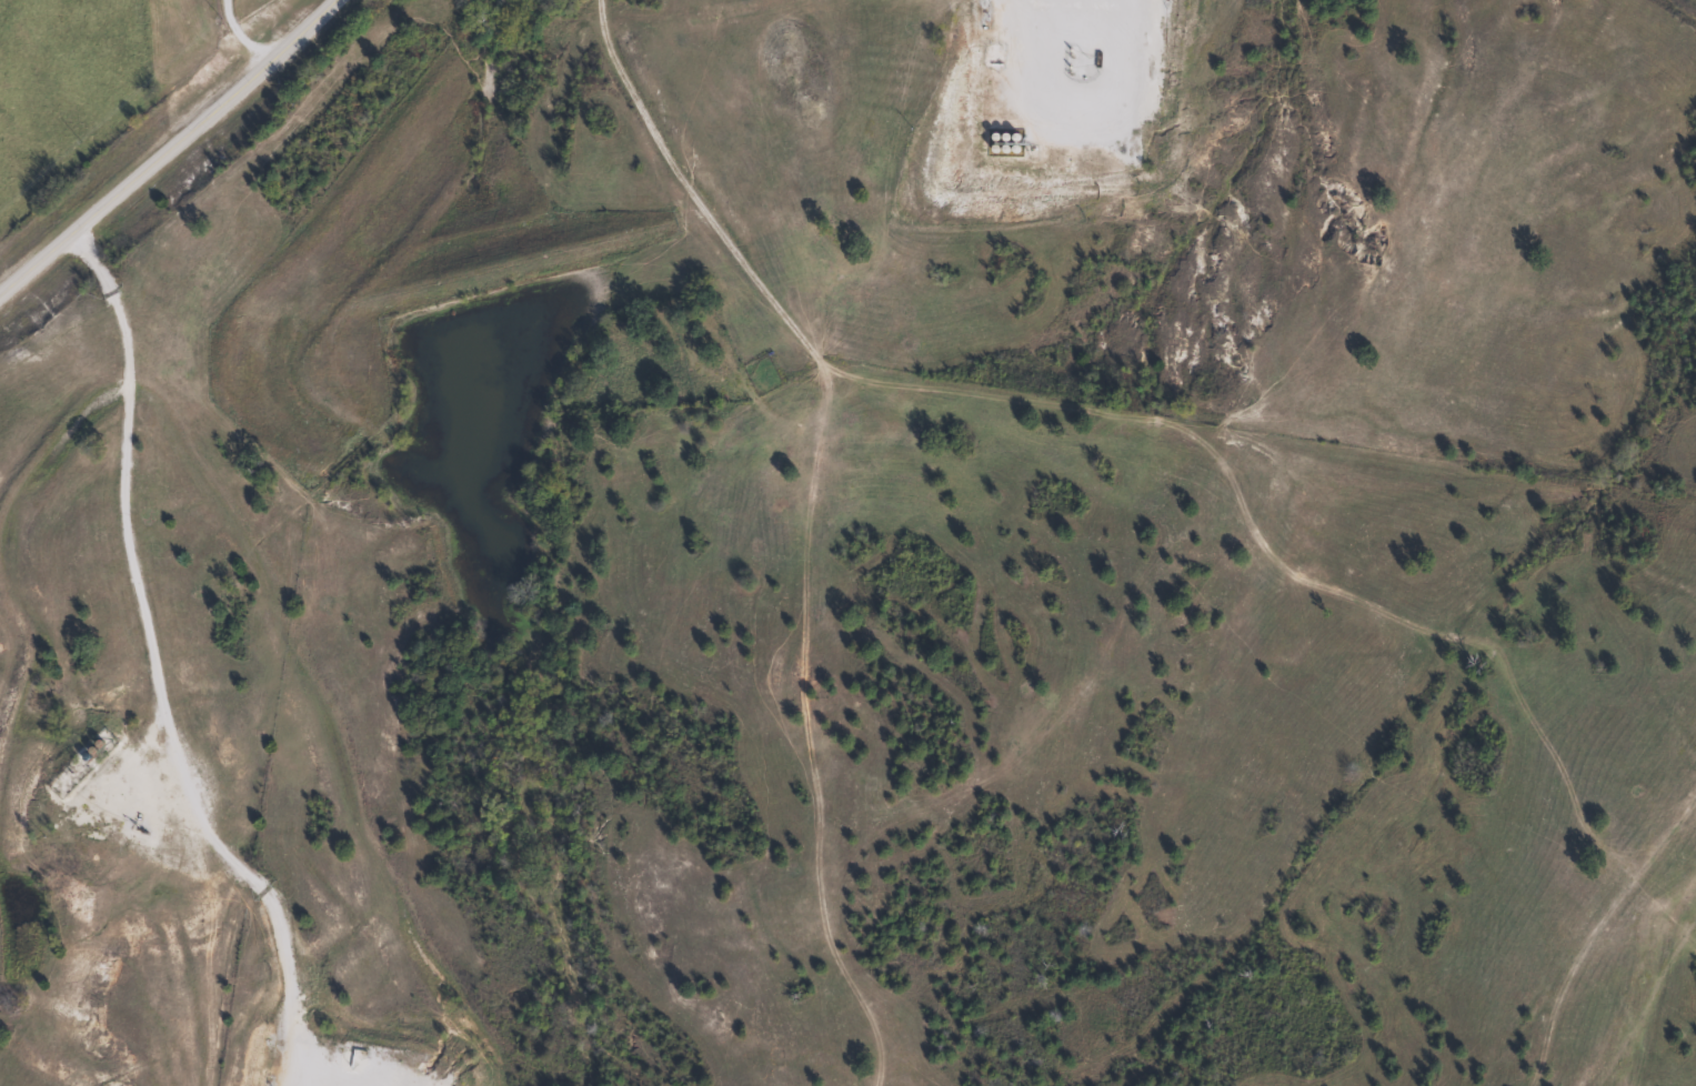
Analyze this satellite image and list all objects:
road: (1102, 77)
road: (168, 150)
road: (163, 671)
road: (130, 787)
road: (451, 1078)

